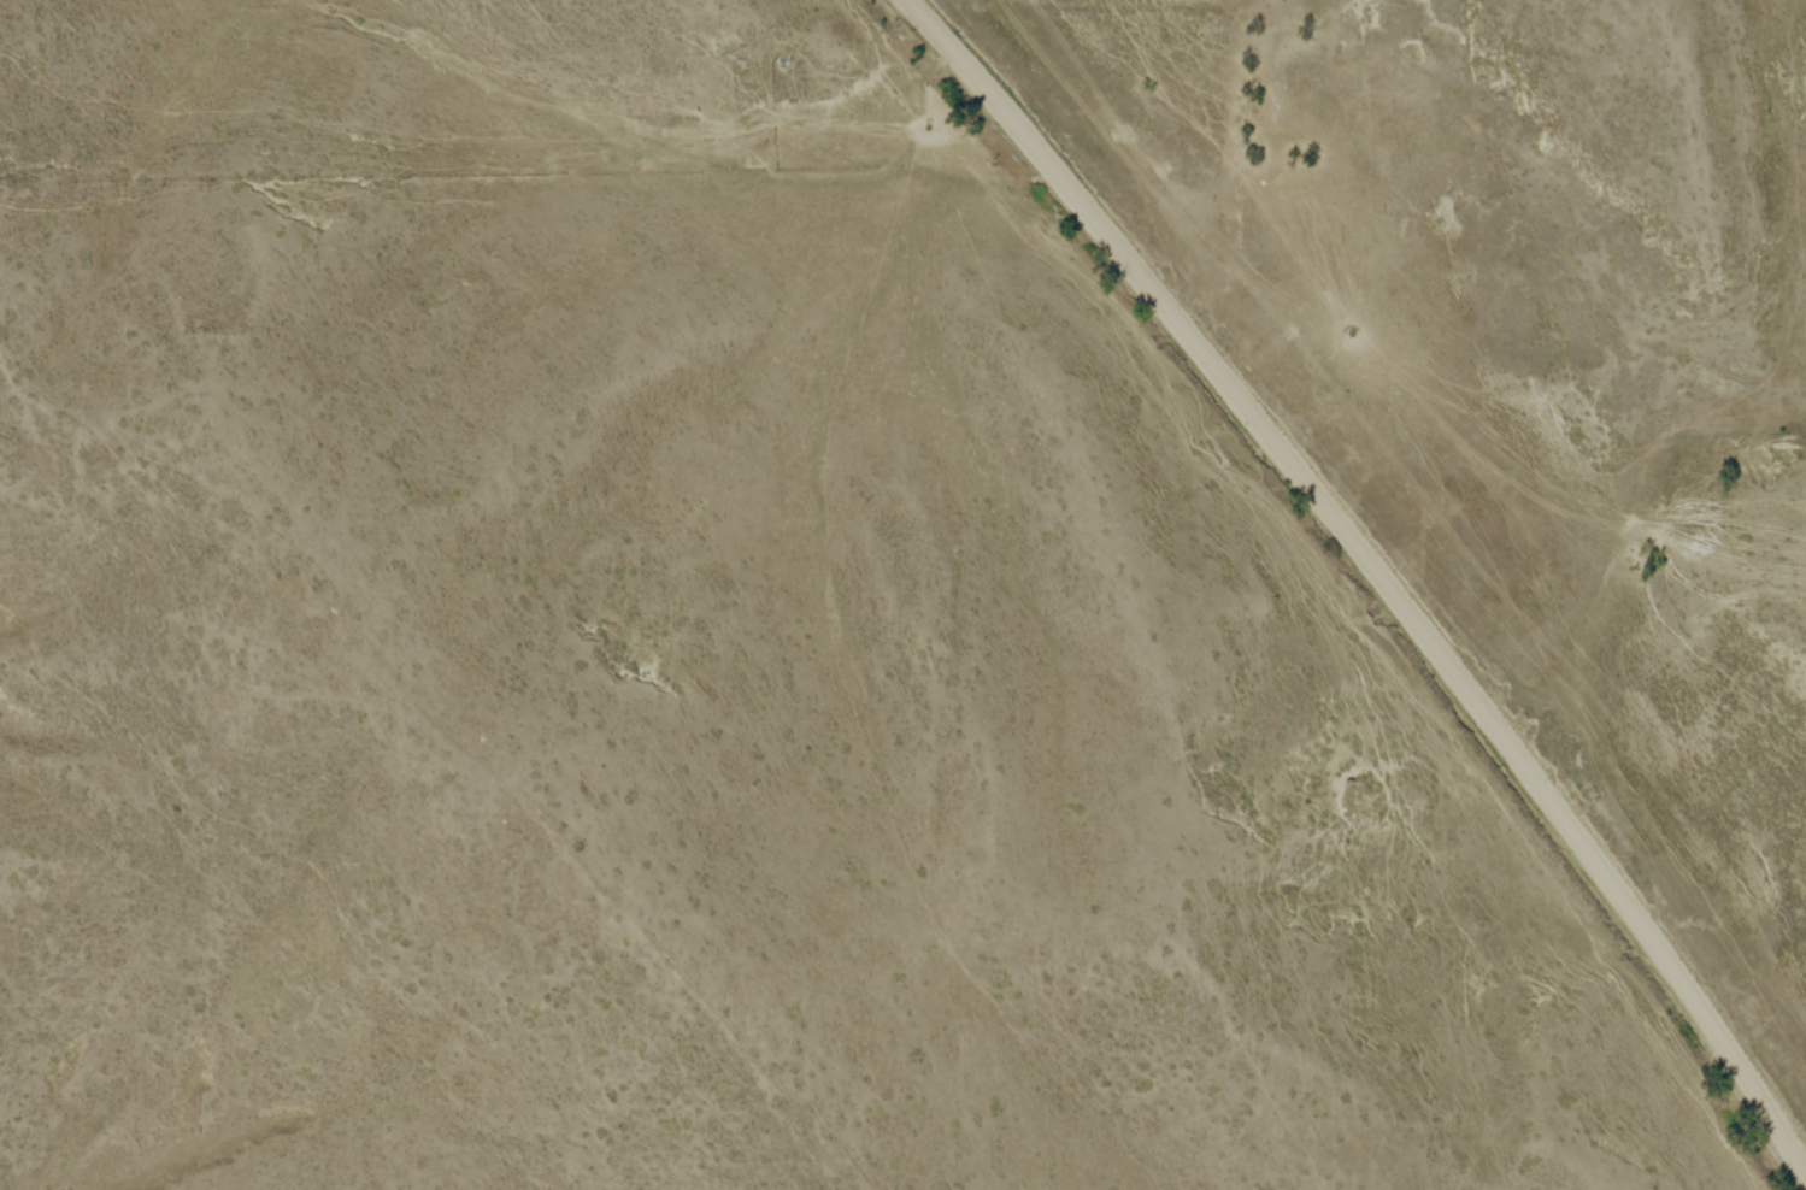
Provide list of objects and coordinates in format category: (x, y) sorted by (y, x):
road: (1378, 572)

